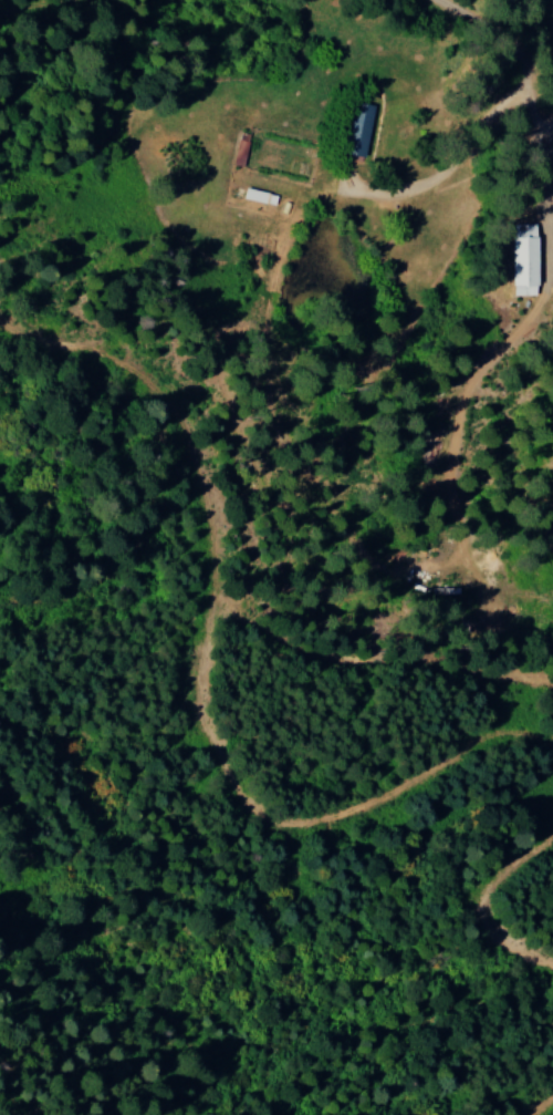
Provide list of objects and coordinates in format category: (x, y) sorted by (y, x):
road: (459, 34)
building: (357, 128)
building: (259, 196)
building: (254, 206)
building: (523, 260)

